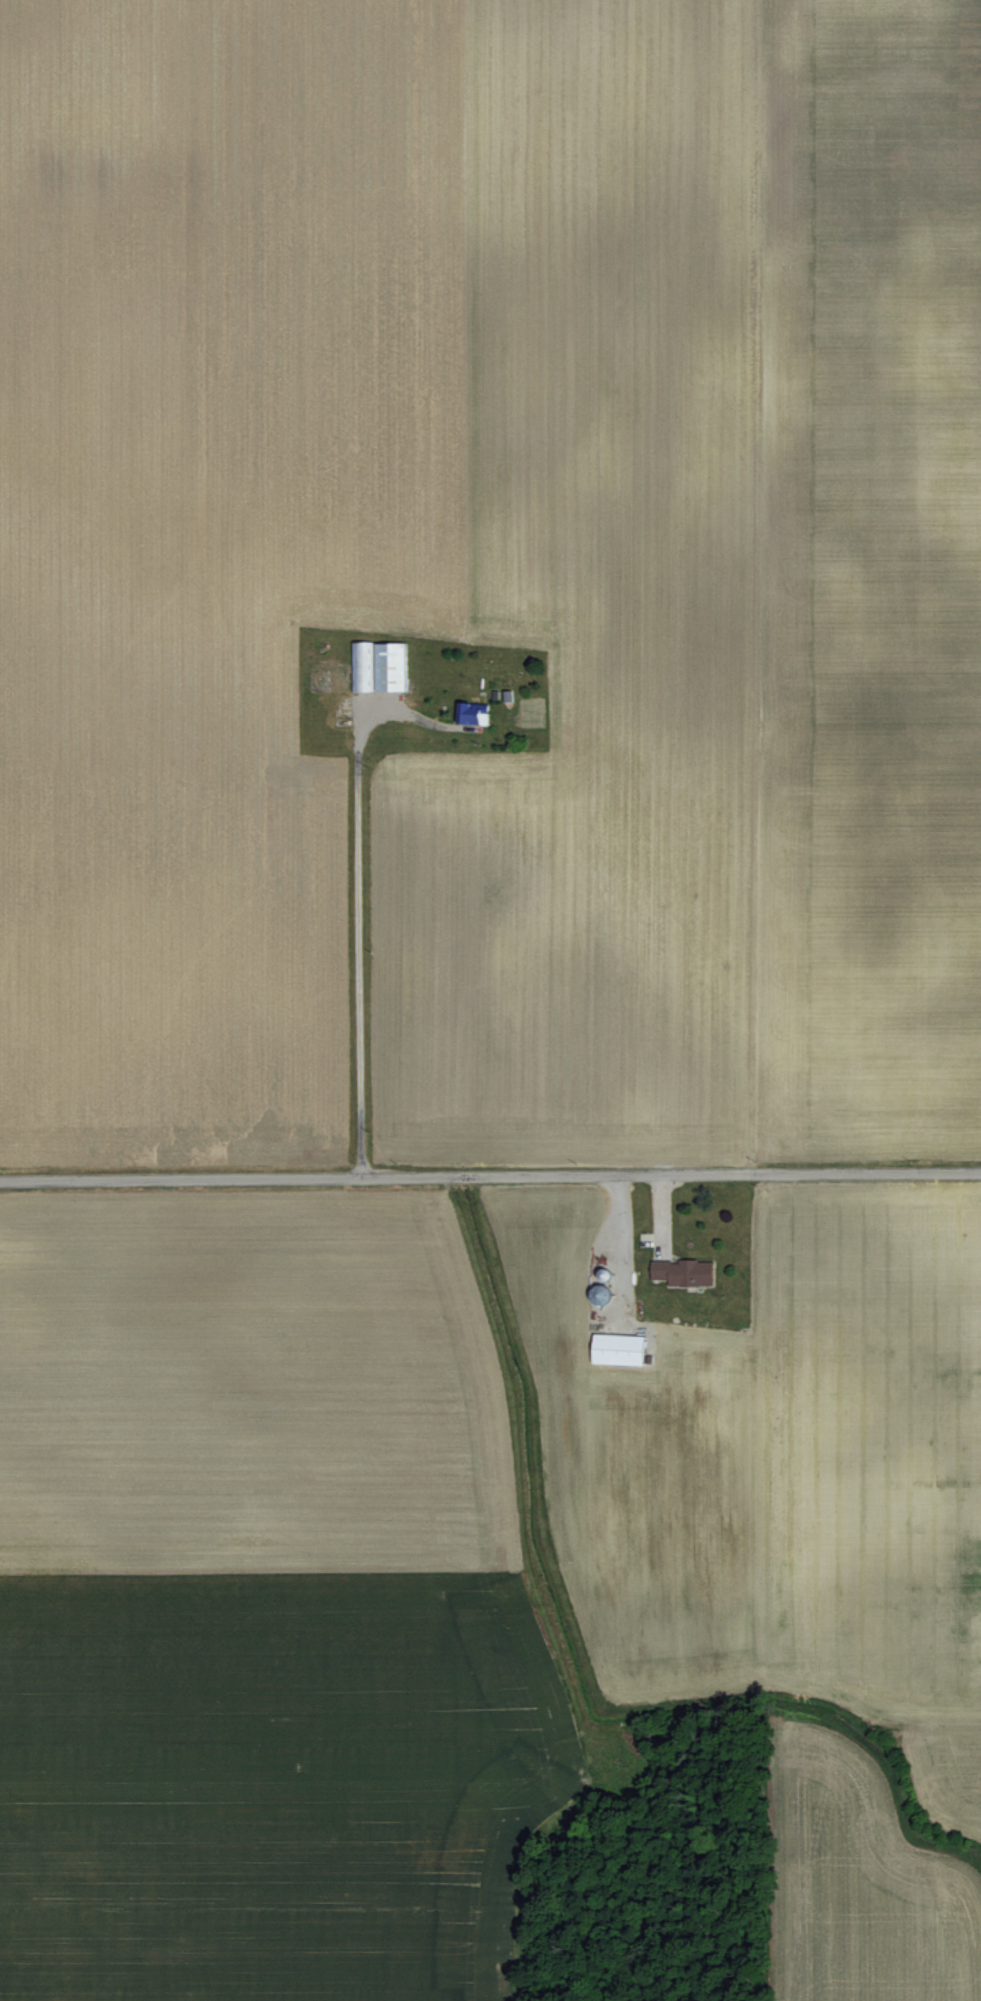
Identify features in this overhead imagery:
road: (357, 937)
road: (490, 1172)

